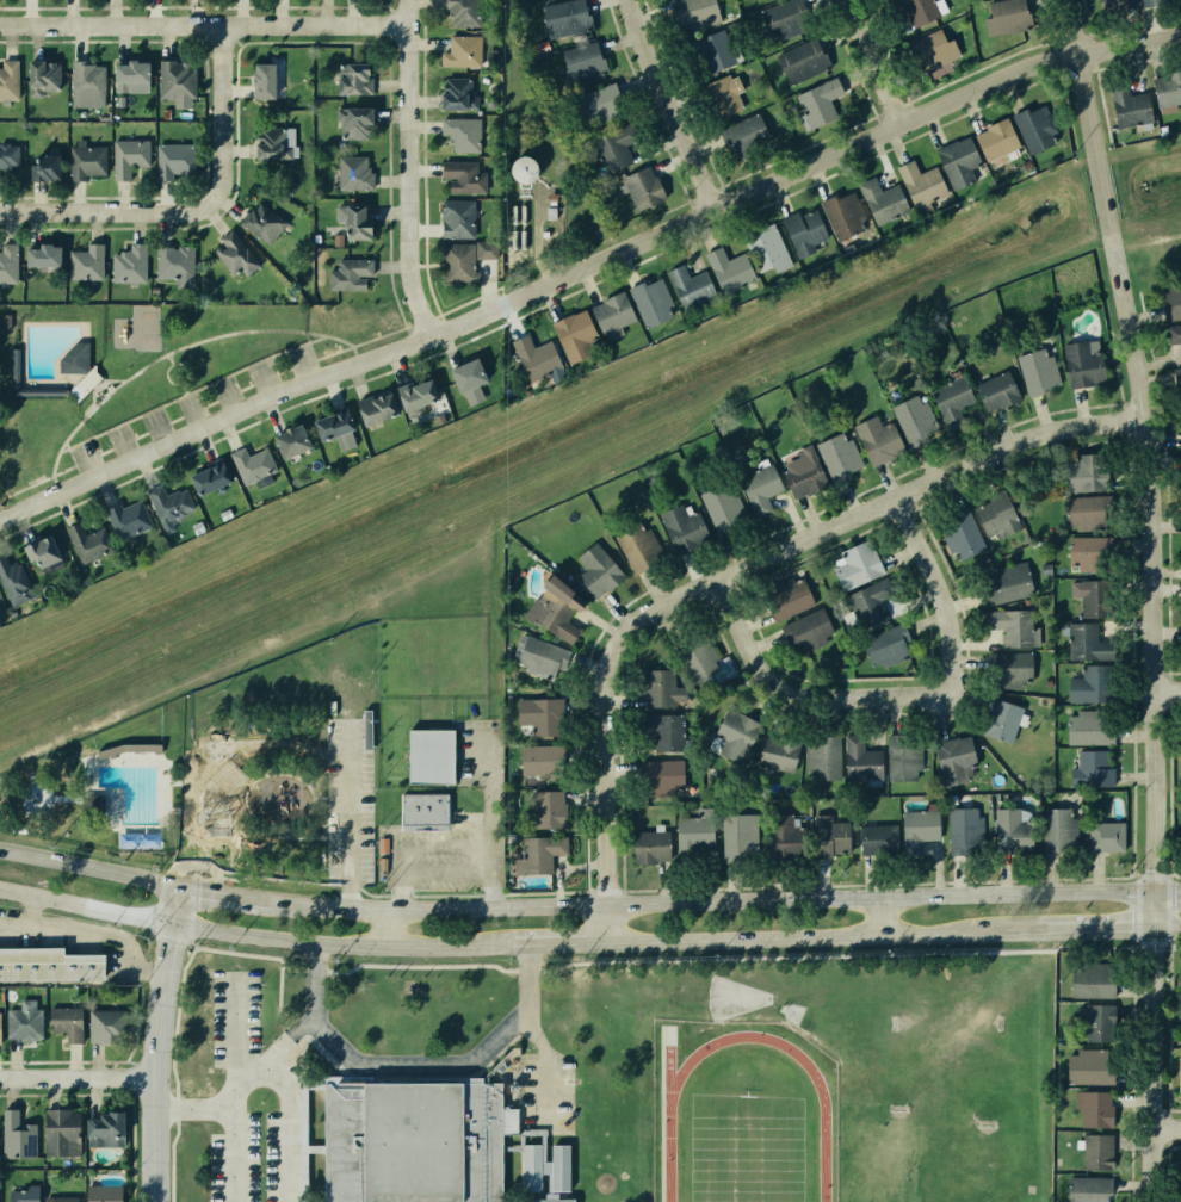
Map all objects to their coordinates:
building: (537, 0)
building: (756, 1)
building: (1152, 2)
building: (1117, 5)
building: (921, 10)
building: (457, 12)
building: (698, 13)
building: (1002, 16)
building: (564, 20)
building: (779, 20)
road: (203, 23)
building: (460, 48)
building: (713, 51)
building: (934, 51)
building: (802, 60)
road: (880, 61)
building: (582, 63)
building: (128, 70)
building: (350, 73)
building: (39, 78)
building: (262, 78)
building: (7, 80)
building: (85, 83)
building: (174, 83)
building: (451, 87)
building: (1170, 89)
building: (724, 94)
building: (816, 99)
road: (673, 105)
building: (601, 106)
building: (1127, 107)
road: (230, 118)
building: (352, 122)
building: (1031, 129)
building: (458, 134)
building: (742, 136)
building: (271, 142)
building: (996, 143)
building: (612, 148)
building: (88, 156)
building: (129, 156)
building: (45, 157)
building: (7, 159)
building: (179, 159)
building: (959, 161)
road: (407, 169)
building: (523, 171)
building: (351, 172)
water tower: (523, 172)
building: (459, 176)
building: (919, 186)
building: (642, 188)
building: (880, 202)
road: (104, 210)
building: (839, 212)
building: (456, 218)
building: (352, 219)
building: (260, 222)
building: (800, 227)
road: (536, 242)
building: (765, 248)
building: (487, 249)
building: (234, 253)
building: (38, 255)
building: (85, 261)
building: (6, 262)
building: (129, 262)
building: (175, 264)
building: (458, 264)
road: (587, 267)
building: (728, 268)
building: (347, 272)
building: (686, 281)
building: (1174, 298)
road: (394, 299)
building: (650, 299)
building: (610, 311)
building: (1175, 333)
building: (573, 334)
road: (304, 336)
road: (367, 339)
road: (310, 349)
road: (352, 349)
road: (174, 351)
building: (76, 357)
building: (528, 357)
road: (168, 359)
building: (1080, 361)
road: (301, 363)
road: (315, 363)
building: (1037, 368)
road: (282, 370)
park: (150, 371)
building: (1180, 376)
road: (264, 378)
building: (463, 378)
road: (169, 382)
road: (245, 386)
road: (181, 388)
building: (412, 389)
building: (996, 390)
road: (188, 391)
road: (227, 395)
road: (209, 402)
building: (953, 402)
building: (370, 404)
road: (191, 410)
parking lot: (193, 413)
road: (174, 419)
building: (914, 419)
building: (329, 421)
road: (156, 427)
road: (138, 434)
building: (874, 438)
building: (287, 441)
road: (120, 442)
road: (64, 444)
road: (103, 450)
building: (836, 453)
road: (69, 456)
road: (85, 458)
building: (248, 463)
road: (75, 467)
building: (798, 467)
road: (62, 469)
building: (1087, 473)
building: (205, 475)
road: (548, 475)
road: (51, 478)
road: (925, 484)
road: (25, 485)
building: (756, 485)
building: (167, 504)
building: (717, 507)
building: (1086, 513)
building: (997, 515)
building: (128, 518)
building: (679, 527)
building: (962, 533)
building: (84, 539)
building: (635, 544)
building: (38, 549)
building: (1090, 554)
building: (858, 564)
building: (595, 569)
building: (1044, 570)
building: (12, 578)
building: (1008, 582)
road: (936, 593)
building: (1086, 594)
building: (785, 597)
road: (1151, 597)
building: (867, 603)
building: (555, 608)
building: (1009, 628)
building: (805, 637)
building: (1078, 644)
building: (884, 648)
building: (697, 653)
building: (534, 658)
building: (1007, 670)
building: (1083, 686)
building: (654, 687)
road: (1167, 692)
road: (799, 696)
building: (247, 698)
building: (534, 717)
road: (608, 717)
building: (1003, 720)
building: (1090, 726)
building: (656, 730)
building: (731, 735)
parking lot: (471, 752)
building: (774, 752)
building: (426, 756)
building: (822, 757)
building: (953, 757)
building: (905, 761)
building: (864, 762)
road: (278, 763)
building: (531, 763)
road: (185, 767)
building: (1093, 767)
park: (227, 777)
road: (299, 779)
building: (661, 779)
road: (175, 781)
building: (199, 788)
road: (216, 791)
road: (185, 794)
road: (243, 795)
road: (316, 798)
parking lot: (347, 799)
road: (174, 808)
building: (425, 810)
building: (538, 810)
road: (347, 814)
road: (322, 816)
road: (185, 817)
road: (298, 818)
road: (489, 823)
road: (222, 825)
road: (190, 826)
road: (198, 826)
road: (203, 826)
road: (210, 826)
road: (229, 829)
road: (273, 829)
building: (965, 829)
building: (1061, 830)
building: (915, 831)
building: (1010, 831)
road: (185, 834)
road: (196, 834)
road: (200, 834)
road: (205, 834)
road: (216, 834)
road: (251, 834)
building: (779, 834)
building: (1105, 834)
road: (298, 835)
building: (827, 836)
building: (692, 838)
building: (735, 838)
building: (876, 839)
road: (190, 842)
road: (198, 842)
road: (203, 842)
road: (210, 842)
road: (408, 844)
building: (647, 848)
road: (196, 849)
road: (200, 849)
road: (205, 849)
road: (228, 853)
road: (198, 856)
road: (202, 856)
parking lot: (439, 856)
building: (534, 856)
road: (178, 859)
road: (212, 862)
road: (197, 863)
road: (89, 868)
road: (223, 870)
road: (194, 873)
road: (218, 873)
road: (237, 873)
road: (445, 873)
road: (192, 875)
road: (212, 876)
road: (200, 878)
road: (223, 878)
road: (239, 878)
road: (285, 879)
road: (340, 882)
traffic signals: (180, 890)
road: (371, 894)
road: (1170, 894)
road: (218, 896)
traffic signals: (1160, 896)
road: (159, 901)
road: (709, 905)
road: (190, 909)
road: (885, 917)
traffic signals: (174, 923)
road: (611, 924)
traffic signals: (1158, 924)
road: (1169, 924)
road: (1117, 925)
road: (384, 930)
road: (842, 934)
road: (168, 936)
road: (260, 936)
road: (568, 942)
road: (188, 943)
building: (47, 967)
road: (527, 969)
road: (315, 971)
building: (1090, 981)
park: (732, 998)
park: (798, 1014)
road: (314, 1016)
building: (66, 1023)
building: (1092, 1024)
building: (23, 1027)
building: (0, 1028)
building: (104, 1028)
road: (296, 1029)
road: (237, 1030)
park: (950, 1034)
road: (156, 1045)
flagpole: (297, 1059)
road: (452, 1065)
road: (546, 1065)
building: (1086, 1067)
building: (1180, 1070)
road: (78, 1074)
road: (191, 1107)
building: (1093, 1107)
road: (174, 1108)
road: (283, 1120)
building: (104, 1123)
road: (1169, 1124)
road: (229, 1127)
road: (290, 1127)
building: (60, 1130)
building: (16, 1138)
building: (412, 1140)
park: (746, 1144)
park: (935, 1151)
building: (1097, 1152)
building: (531, 1164)
building: (559, 1166)
building: (1086, 1188)
building: (26, 1194)
building: (101, 1194)
building: (61, 1197)
building: (551, 1200)

